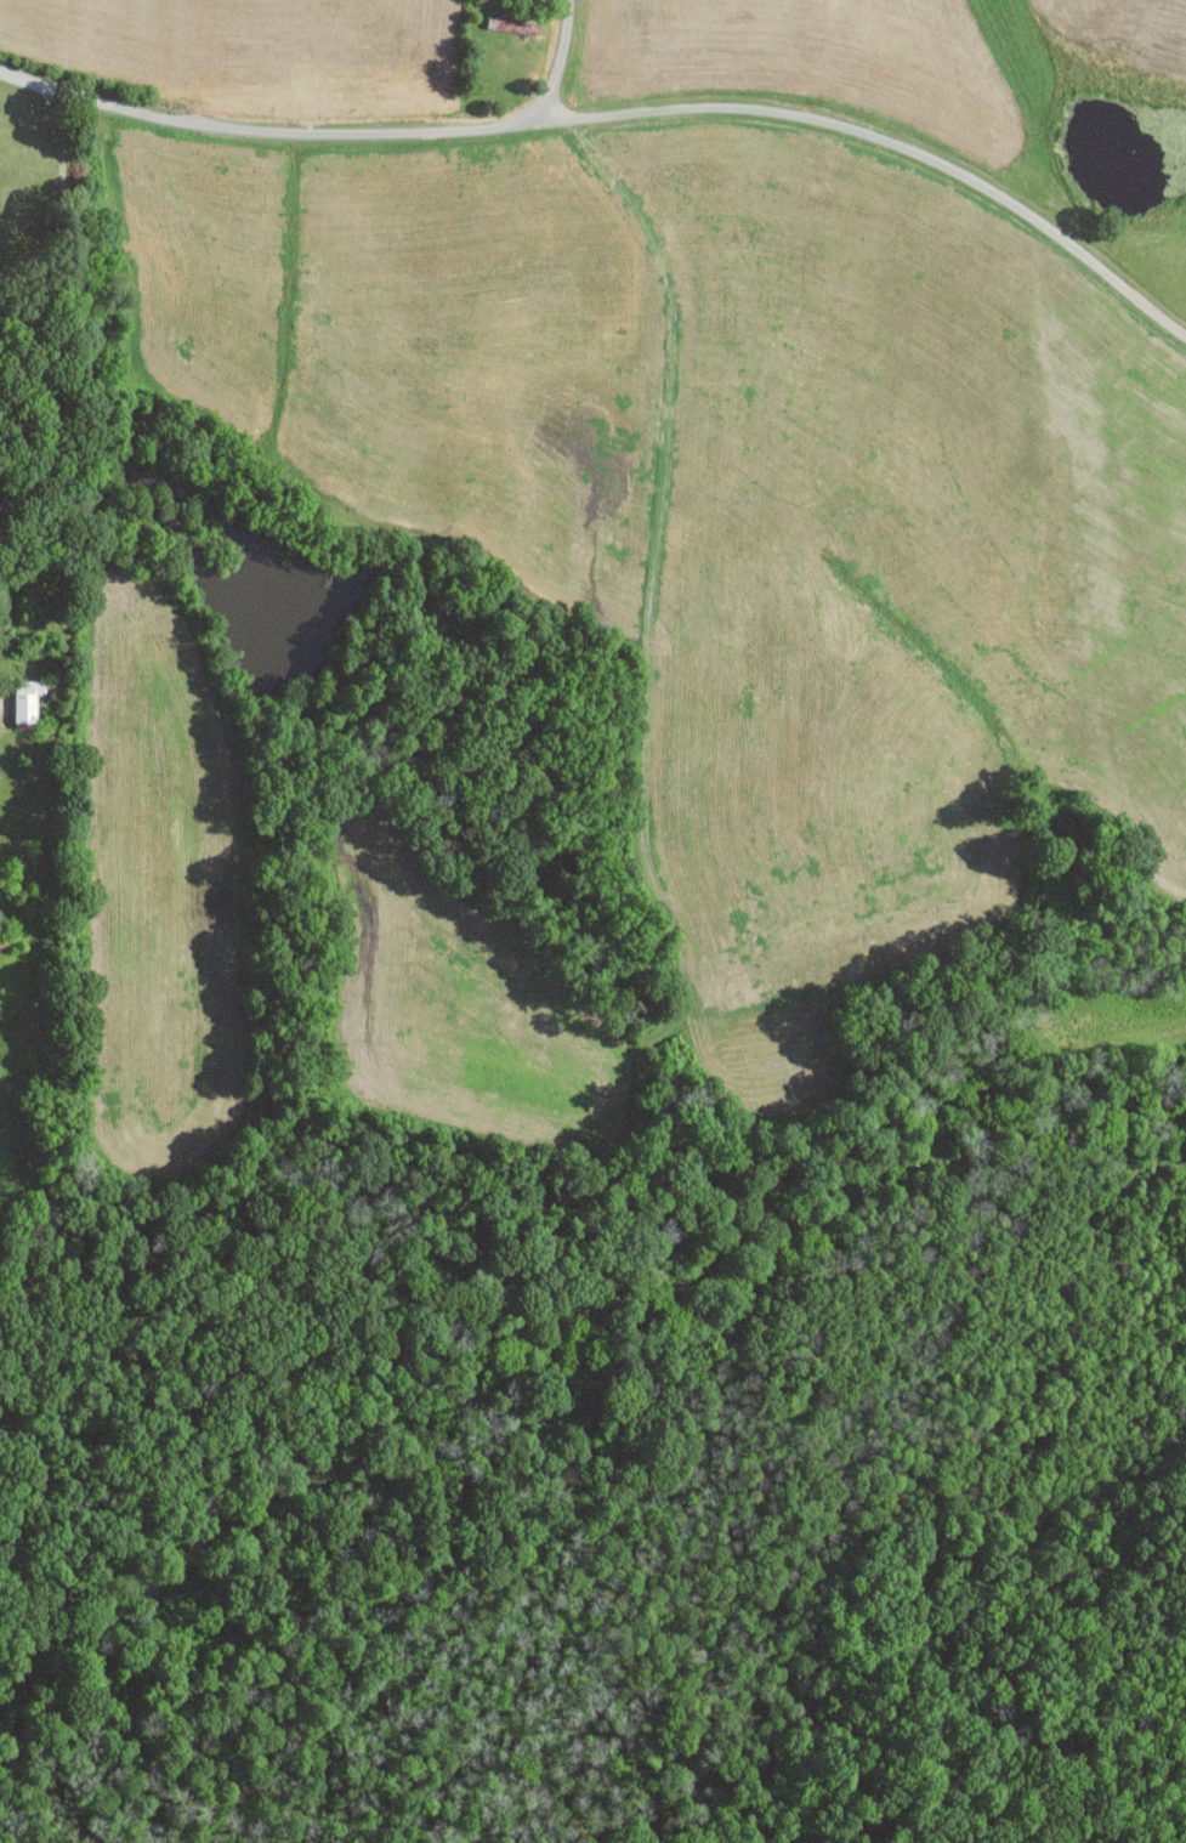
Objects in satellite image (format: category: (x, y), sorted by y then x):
road: (562, 63)
road: (622, 115)
road: (142, 254)
building: (27, 701)

